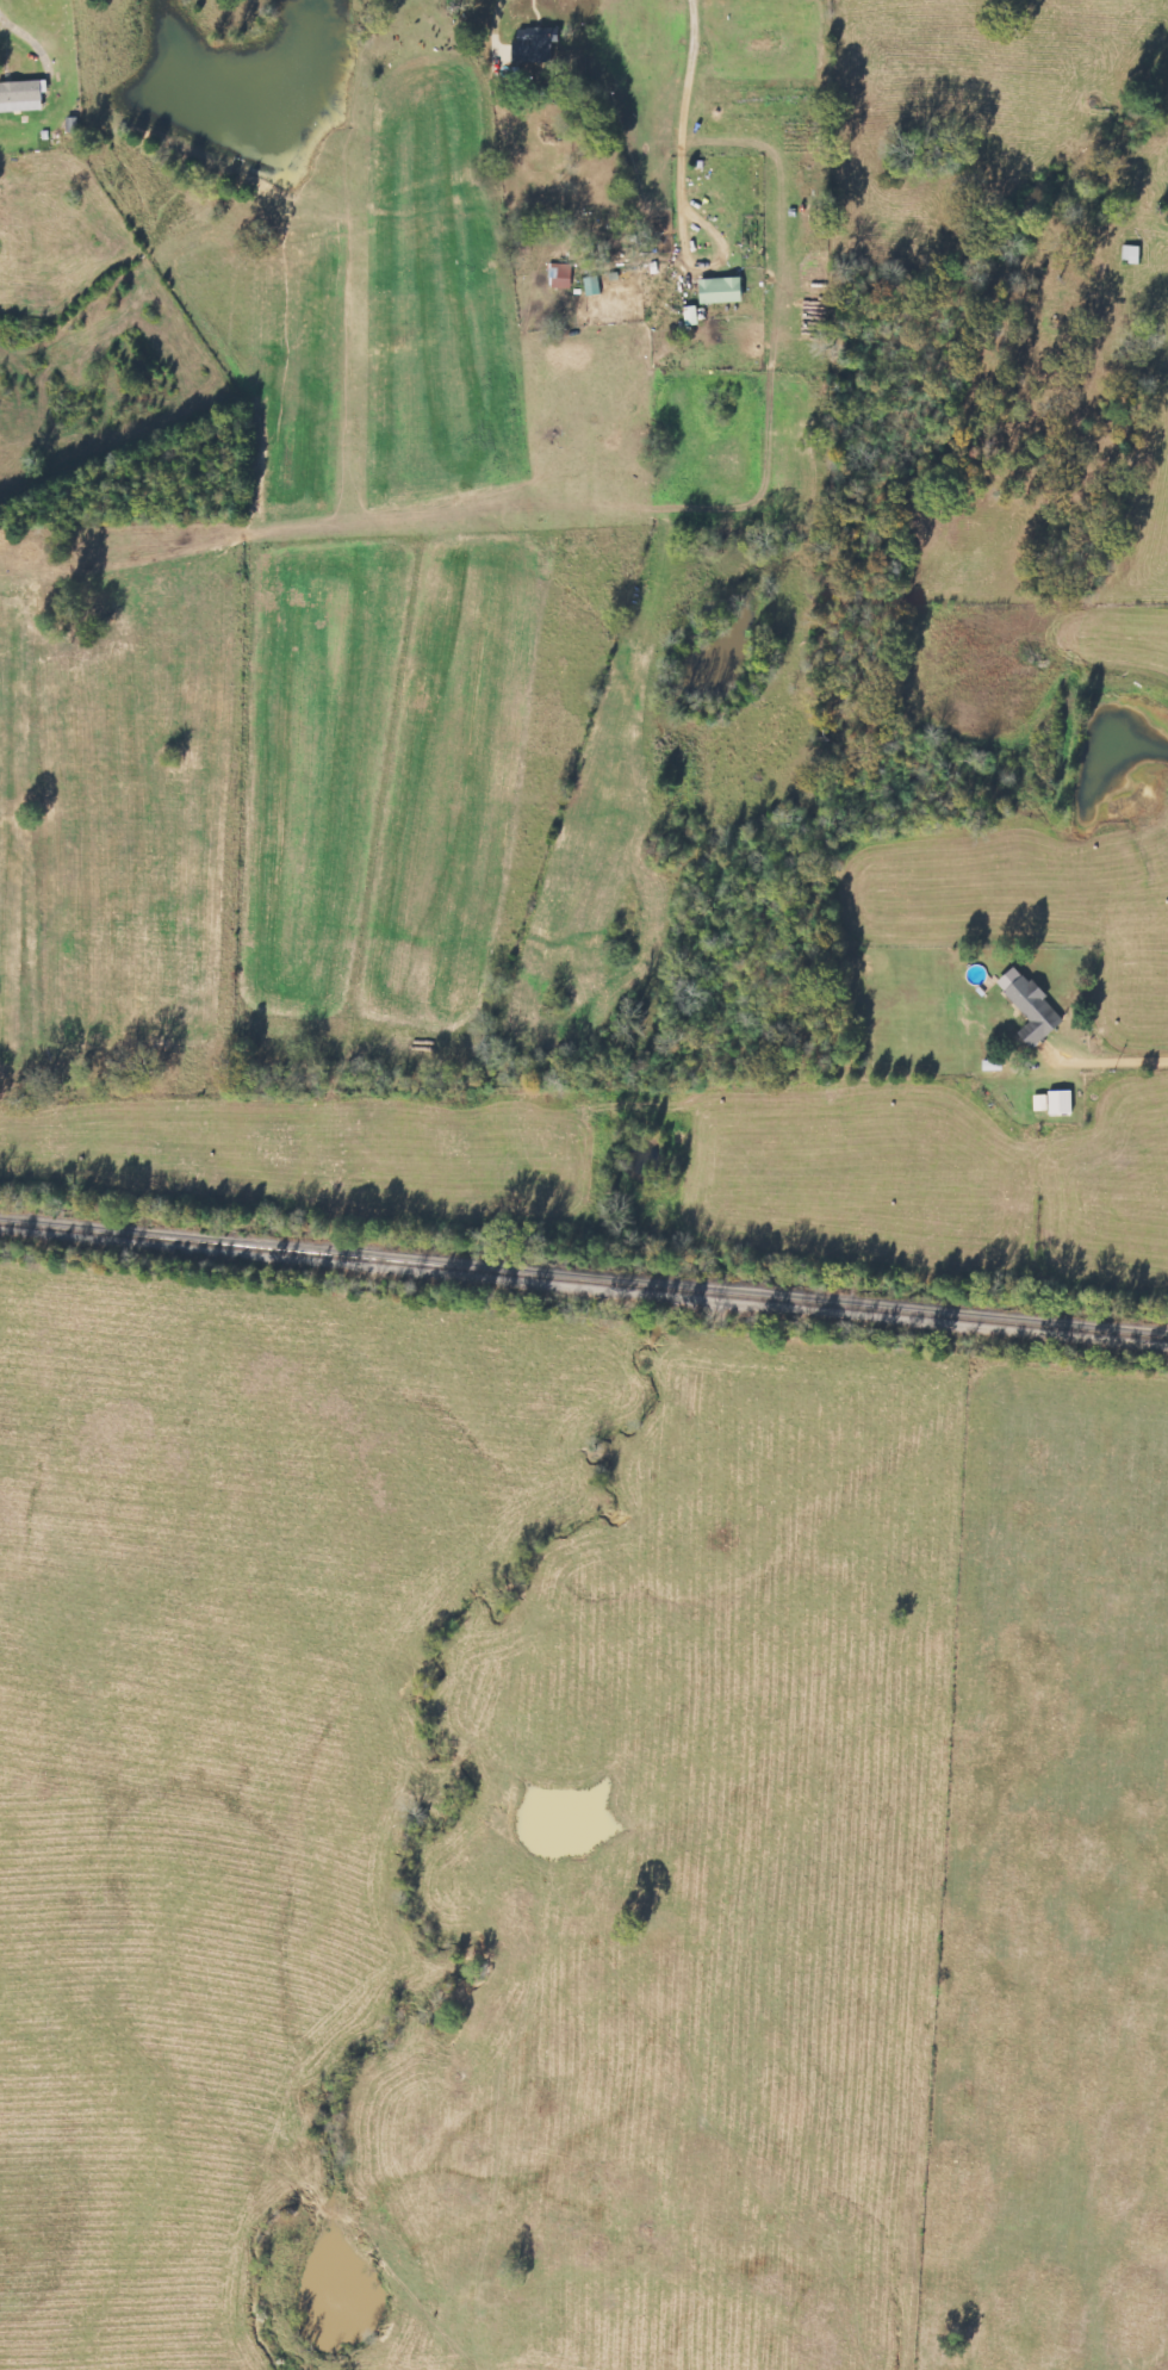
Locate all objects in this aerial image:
building: (536, 55)
building: (23, 95)
building: (1133, 254)
building: (563, 275)
building: (594, 286)
building: (723, 291)
building: (692, 316)
building: (1033, 1006)
building: (1063, 1103)
railway: (583, 1278)

